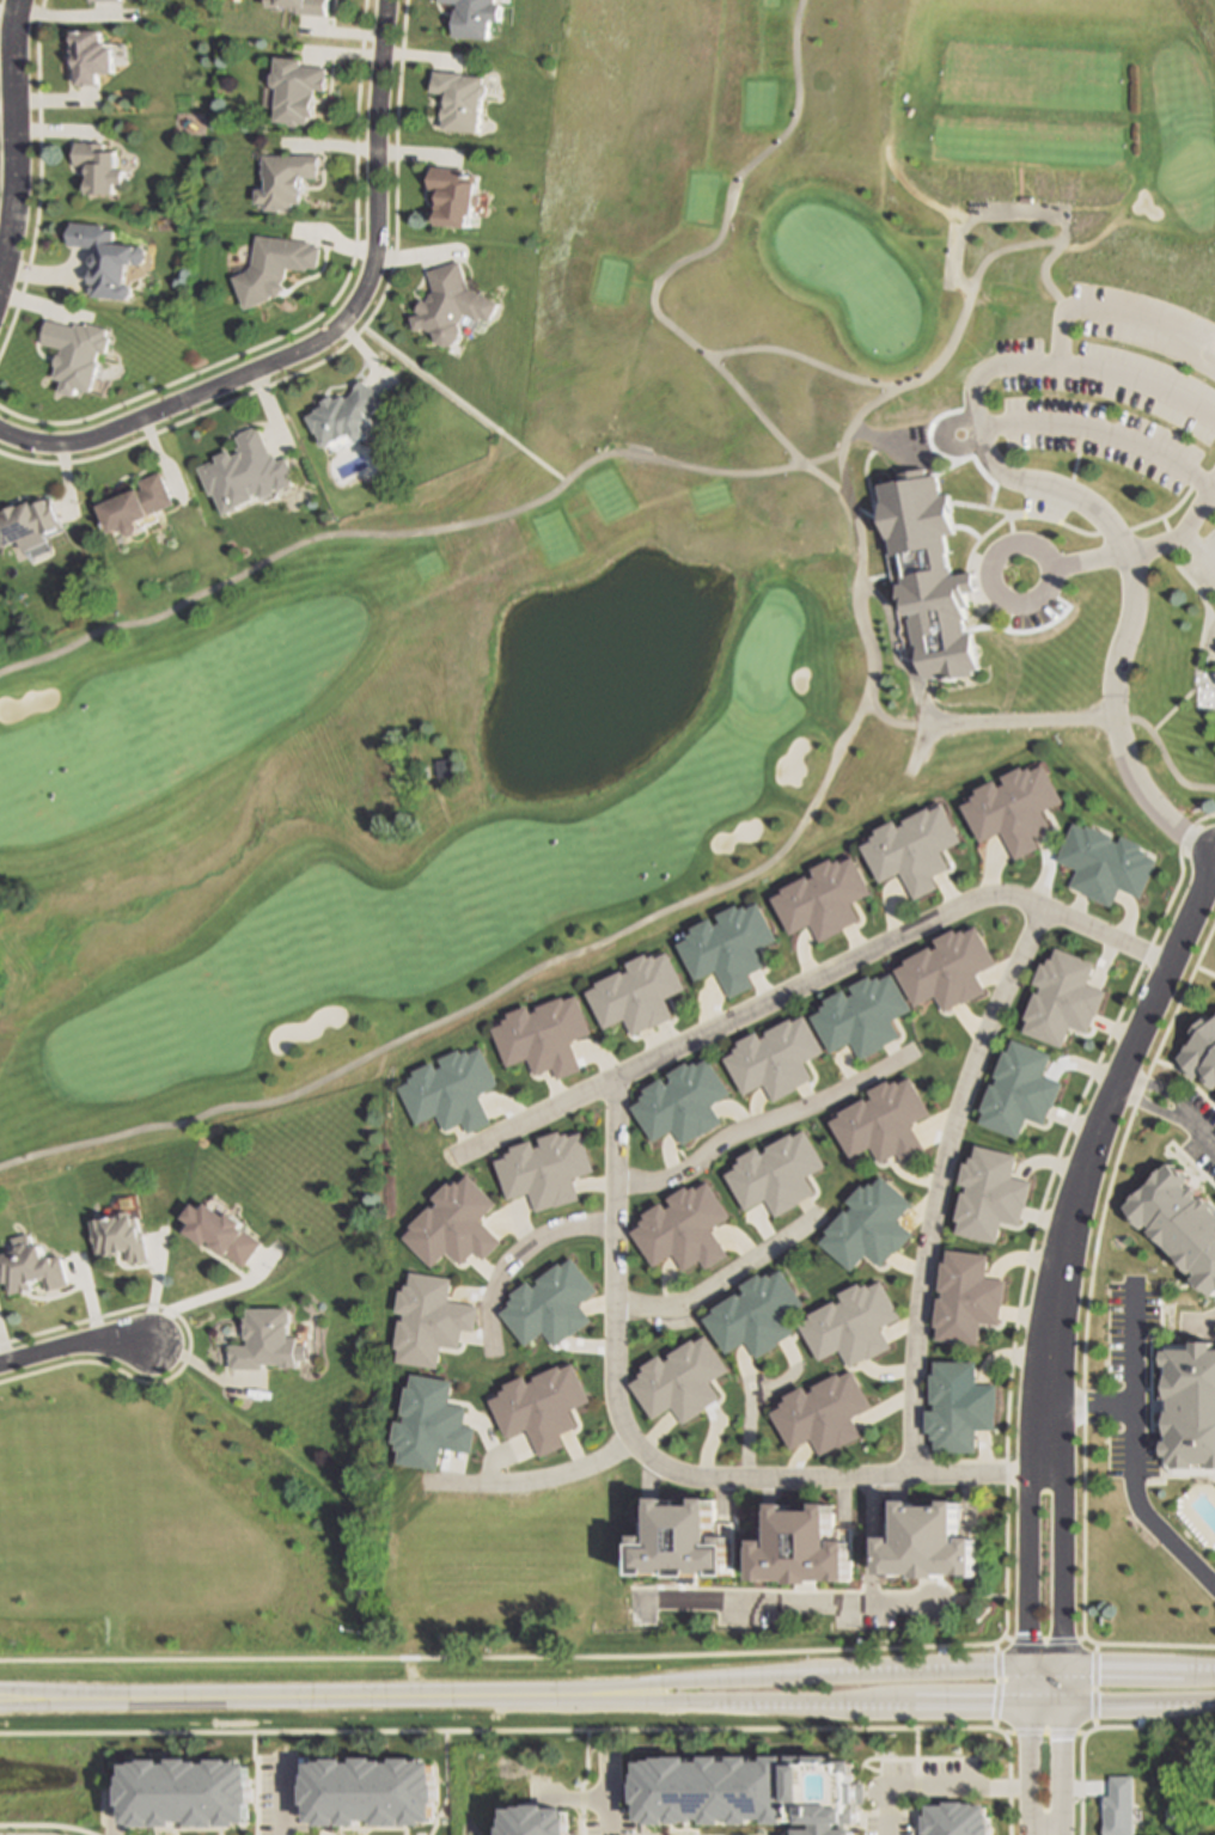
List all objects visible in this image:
building: (111, 0)
building: (303, 5)
building: (475, 16)
building: (87, 54)
building: (294, 86)
building: (459, 97)
road: (8, 128)
building: (94, 165)
building: (286, 176)
building: (454, 192)
road: (1022, 214)
building: (103, 258)
building: (273, 265)
road: (671, 268)
building: (452, 304)
road: (1113, 314)
road: (324, 334)
road: (340, 348)
building: (75, 356)
road: (805, 357)
road: (1107, 373)
parking lot: (1119, 396)
road: (464, 402)
building: (347, 412)
road: (857, 418)
road: (961, 430)
road: (1101, 434)
road: (1069, 460)
building: (246, 470)
road: (978, 471)
road: (933, 489)
road: (941, 501)
building: (138, 502)
building: (28, 518)
road: (1179, 532)
road: (417, 533)
road: (1093, 534)
road: (1024, 545)
road: (1197, 556)
road: (1083, 561)
park: (660, 564)
road: (1128, 587)
building: (948, 620)
road: (1199, 626)
park: (761, 659)
road: (1054, 724)
building: (442, 771)
building: (1016, 806)
building: (915, 848)
road: (1214, 858)
building: (1106, 862)
building: (824, 897)
building: (729, 946)
building: (950, 968)
road: (806, 980)
building: (637, 992)
building: (1064, 997)
road: (478, 1002)
building: (863, 1014)
building: (543, 1035)
building: (1201, 1050)
building: (776, 1058)
road: (1149, 1088)
building: (451, 1090)
building: (1021, 1090)
building: (683, 1102)
road: (1138, 1108)
road: (763, 1123)
building: (885, 1123)
road: (1193, 1133)
road: (1086, 1155)
building: (545, 1169)
building: (777, 1173)
road: (935, 1181)
building: (991, 1195)
building: (453, 1224)
building: (869, 1224)
building: (684, 1229)
building: (219, 1232)
building: (118, 1235)
road: (513, 1255)
road: (611, 1261)
building: (29, 1266)
road: (720, 1278)
road: (191, 1298)
building: (967, 1298)
building: (550, 1305)
building: (758, 1315)
building: (429, 1321)
building: (851, 1323)
road: (71, 1341)
building: (264, 1341)
road: (184, 1345)
building: (682, 1381)
building: (1191, 1406)
building: (542, 1407)
building: (958, 1408)
road: (746, 1411)
building: (822, 1413)
road: (1129, 1461)
road: (556, 1475)
road: (830, 1475)
park: (91, 1498)
road: (867, 1539)
park: (164, 1540)
building: (683, 1542)
building: (932, 1546)
building: (804, 1548)
road: (1024, 1584)
road: (1058, 1585)
road: (782, 1599)
road: (884, 1668)
road: (276, 1694)
road: (884, 1701)
road: (490, 1729)
road: (1025, 1768)
road: (1060, 1769)
road: (934, 1785)
building: (371, 1791)
building: (752, 1792)
road: (282, 1798)
road: (609, 1798)
building: (1172, 1816)
building: (955, 1821)
building: (537, 1823)
road: (44, 1825)

